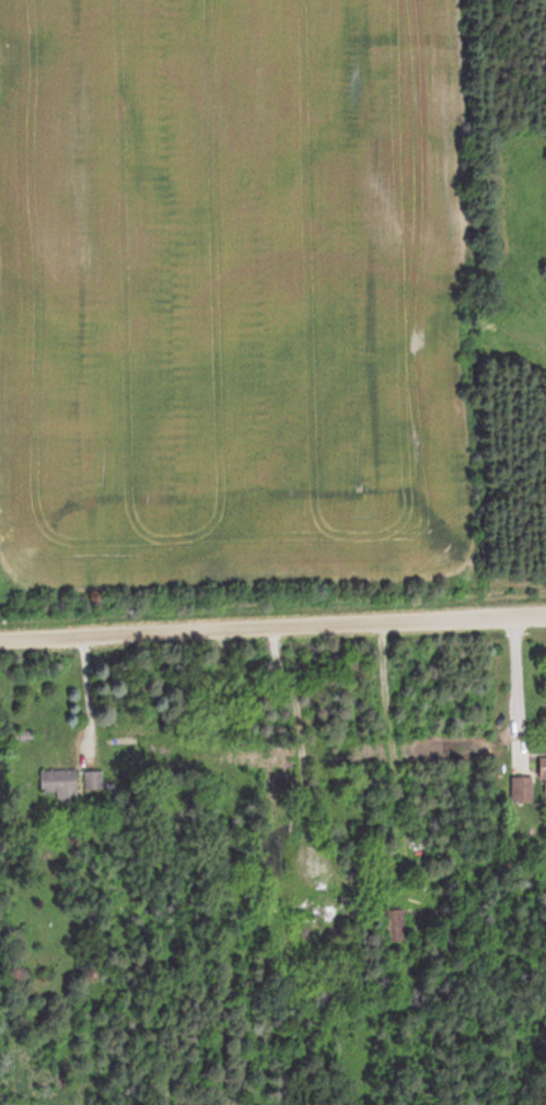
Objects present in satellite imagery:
road: (272, 626)
building: (132, 734)
building: (21, 735)
building: (544, 775)
building: (60, 780)
building: (94, 780)
building: (523, 788)
building: (326, 902)
building: (398, 926)

